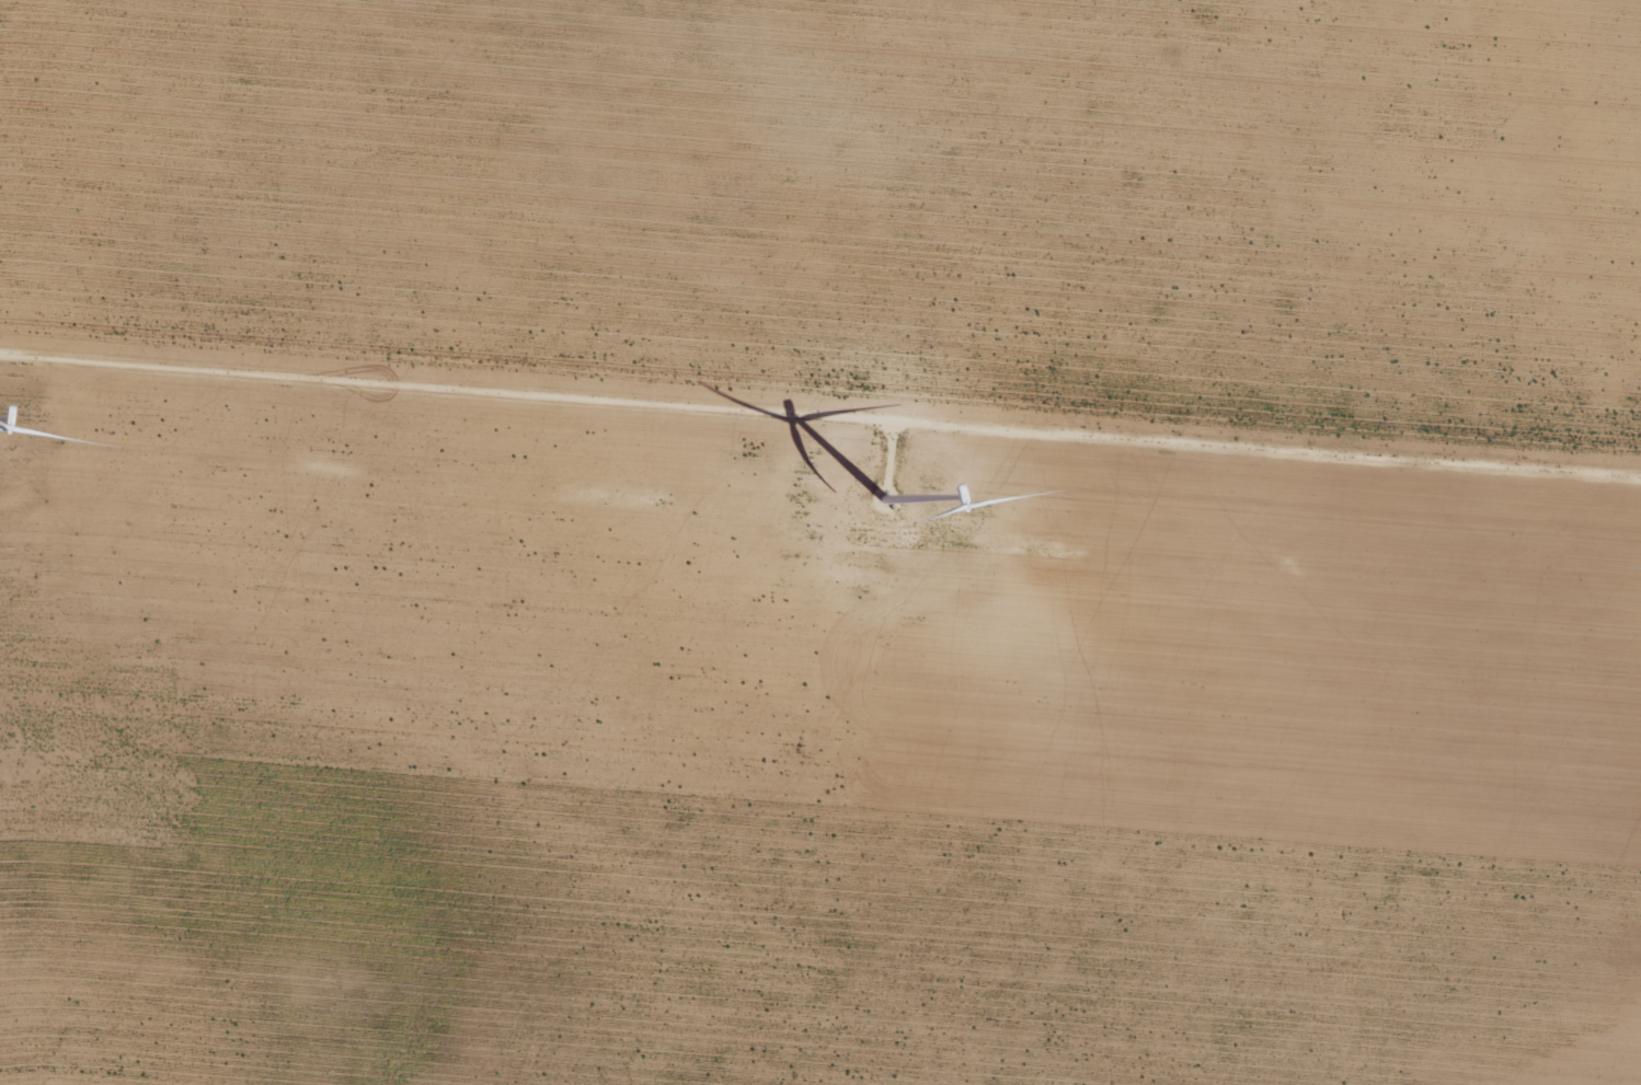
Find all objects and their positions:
road: (1636, 19)
wind turbine: (884, 507)
road: (1446, 1036)

